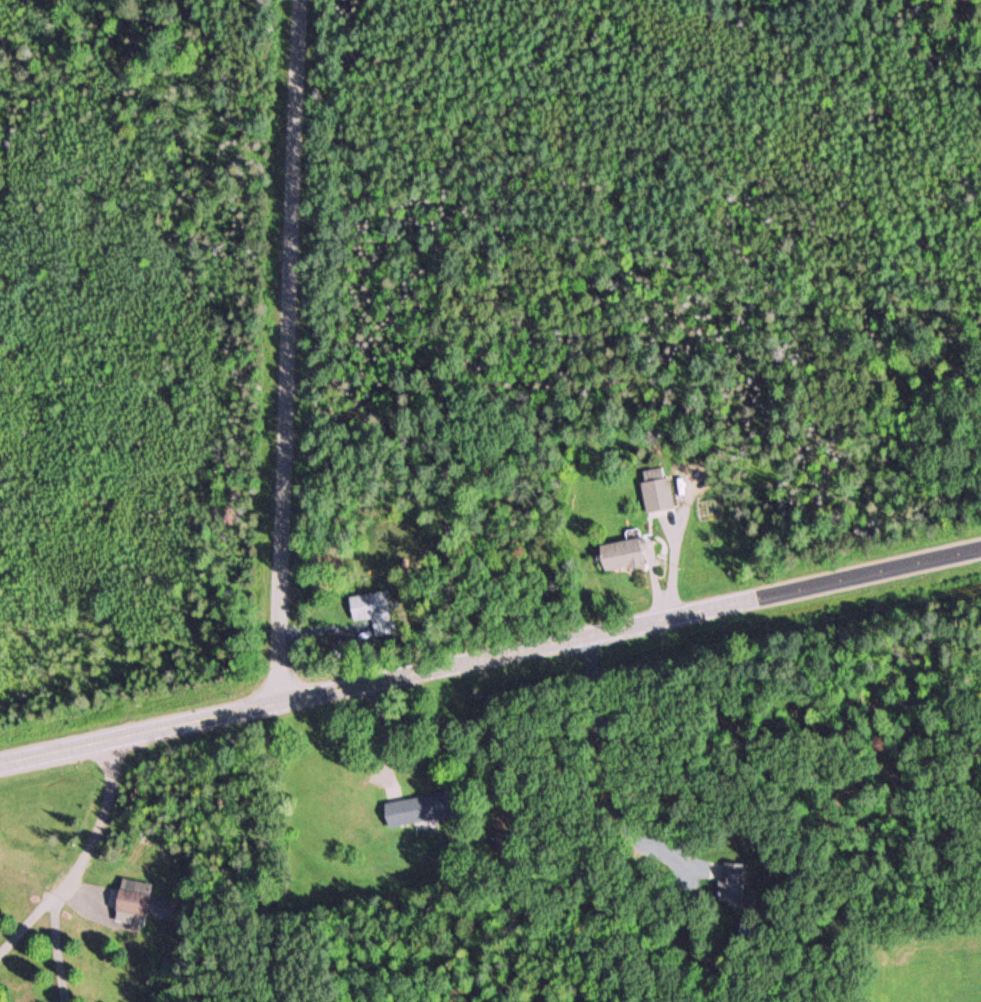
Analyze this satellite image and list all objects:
road: (295, 351)
building: (657, 489)
building: (622, 554)
building: (371, 606)
road: (490, 656)
building: (417, 809)
building: (501, 842)
building: (139, 902)

